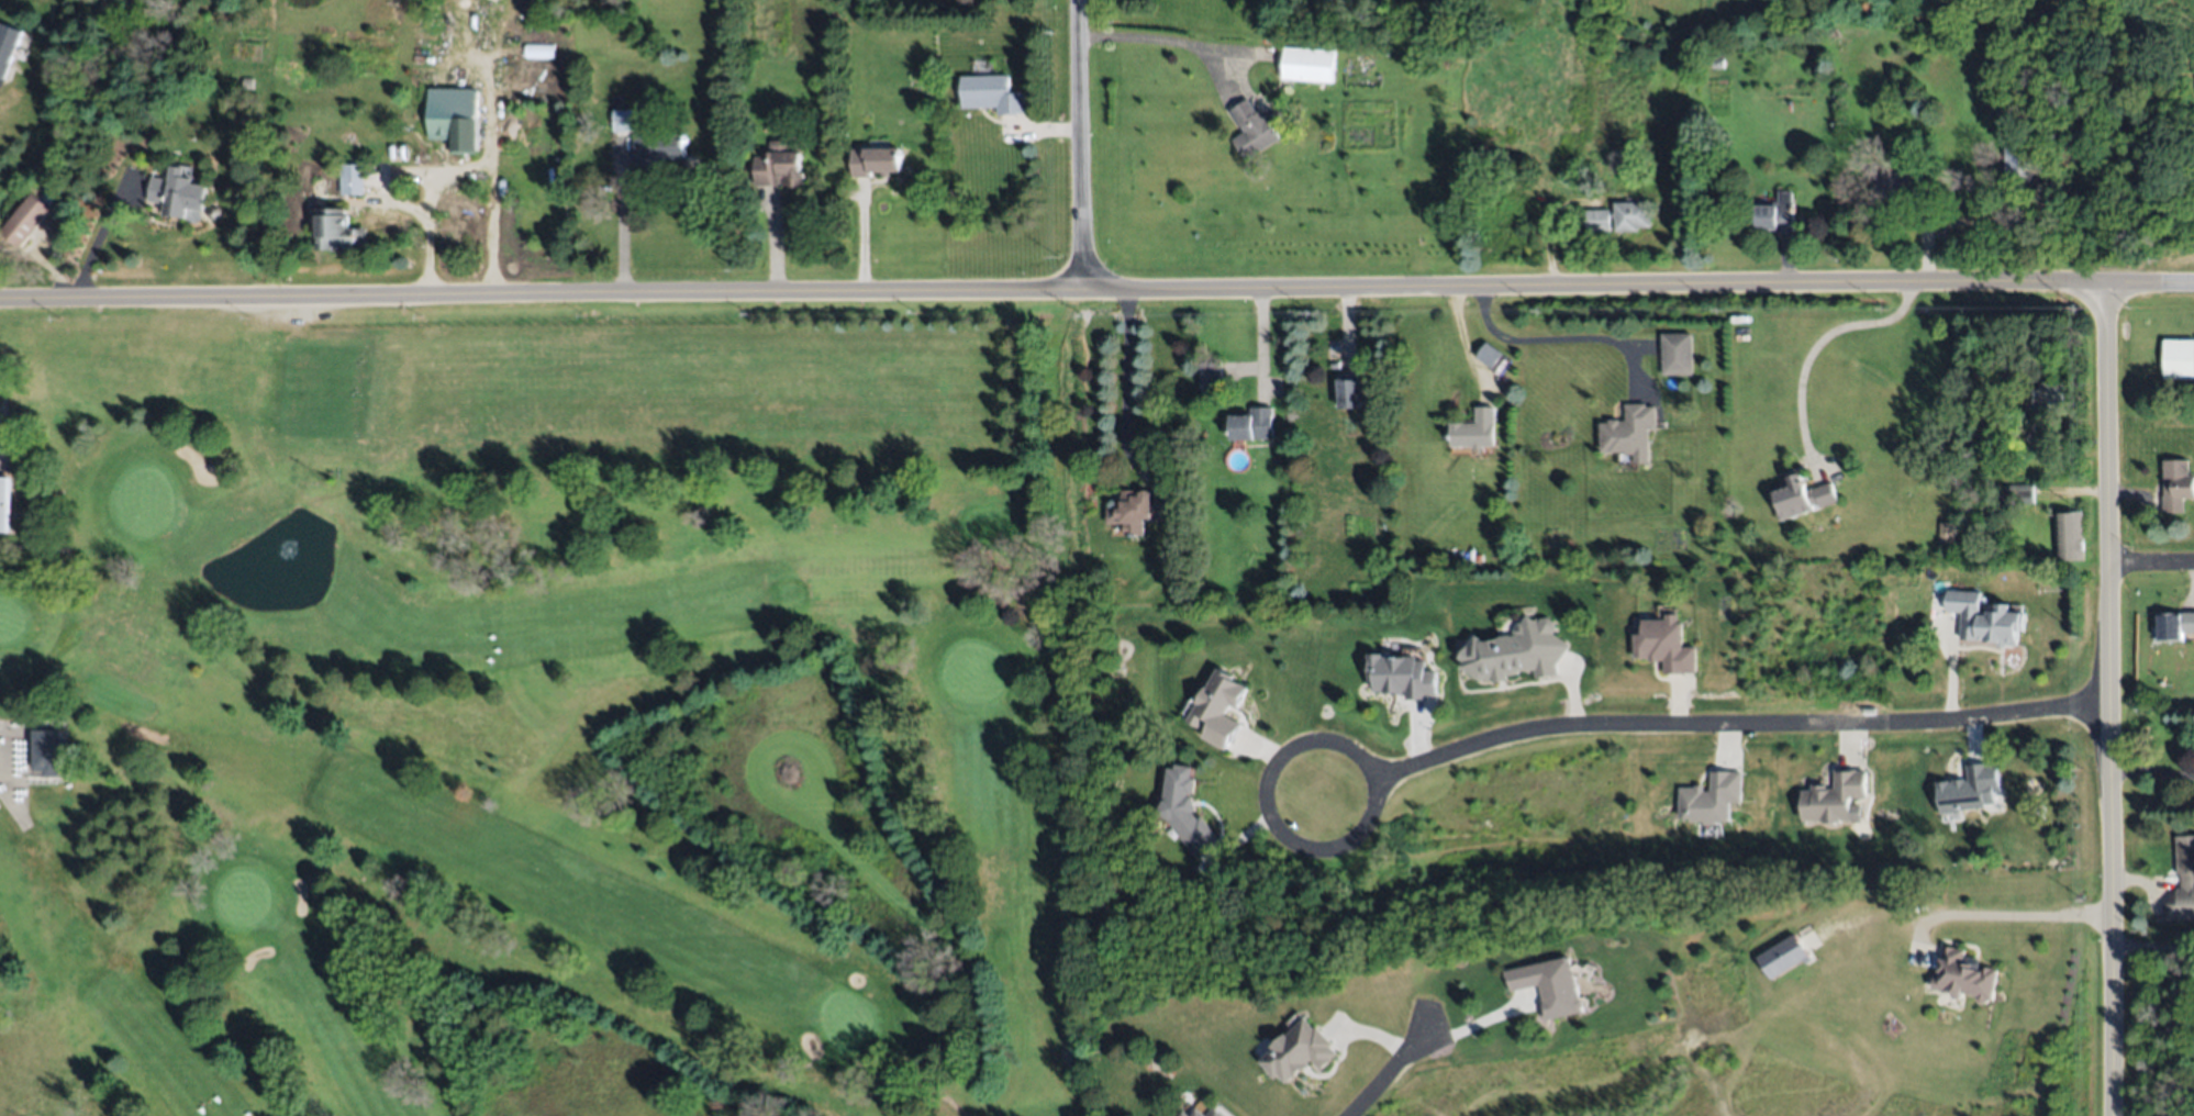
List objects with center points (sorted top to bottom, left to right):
building: (1316, 1)
road: (1156, 36)
building: (8, 46)
building: (538, 51)
building: (1308, 64)
building: (1717, 64)
building: (247, 83)
building: (993, 93)
building: (456, 116)
building: (623, 119)
building: (1252, 129)
road: (1082, 144)
building: (660, 148)
building: (2027, 158)
building: (875, 159)
building: (779, 165)
building: (1588, 177)
building: (353, 179)
road: (422, 179)
building: (1903, 186)
building: (177, 192)
building: (1777, 214)
building: (1631, 215)
road: (621, 216)
building: (24, 219)
building: (1597, 220)
building: (339, 231)
road: (1096, 289)
road: (1559, 337)
road: (1259, 345)
road: (1824, 346)
building: (1677, 353)
building: (1490, 354)
building: (2179, 359)
road: (1126, 365)
building: (1213, 372)
building: (1355, 392)
building: (2046, 397)
parking lot: (3, 417)
building: (1251, 424)
building: (1474, 428)
building: (1629, 433)
road: (0, 443)
building: (2176, 486)
building: (2013, 494)
building: (1798, 496)
building: (7, 503)
building: (1141, 510)
building: (1948, 531)
road: (55, 533)
building: (2067, 536)
road: (42, 546)
road: (998, 555)
road: (2152, 562)
building: (1984, 617)
building: (2172, 626)
building: (1666, 641)
building: (1517, 649)
road: (1951, 650)
building: (1401, 677)
road: (2112, 697)
building: (1219, 710)
park: (538, 719)
road: (1740, 722)
road: (1352, 744)
building: (51, 750)
road: (2152, 774)
building: (1970, 790)
building: (1838, 793)
building: (1712, 800)
road: (11, 803)
building: (1188, 805)
building: (2184, 860)
road: (2003, 914)
road: (2153, 947)
building: (1781, 958)
building: (1960, 975)
building: (1551, 986)
building: (1303, 1048)
road: (1388, 1072)
road: (1074, 1078)
road: (940, 1092)
building: (1205, 1112)

